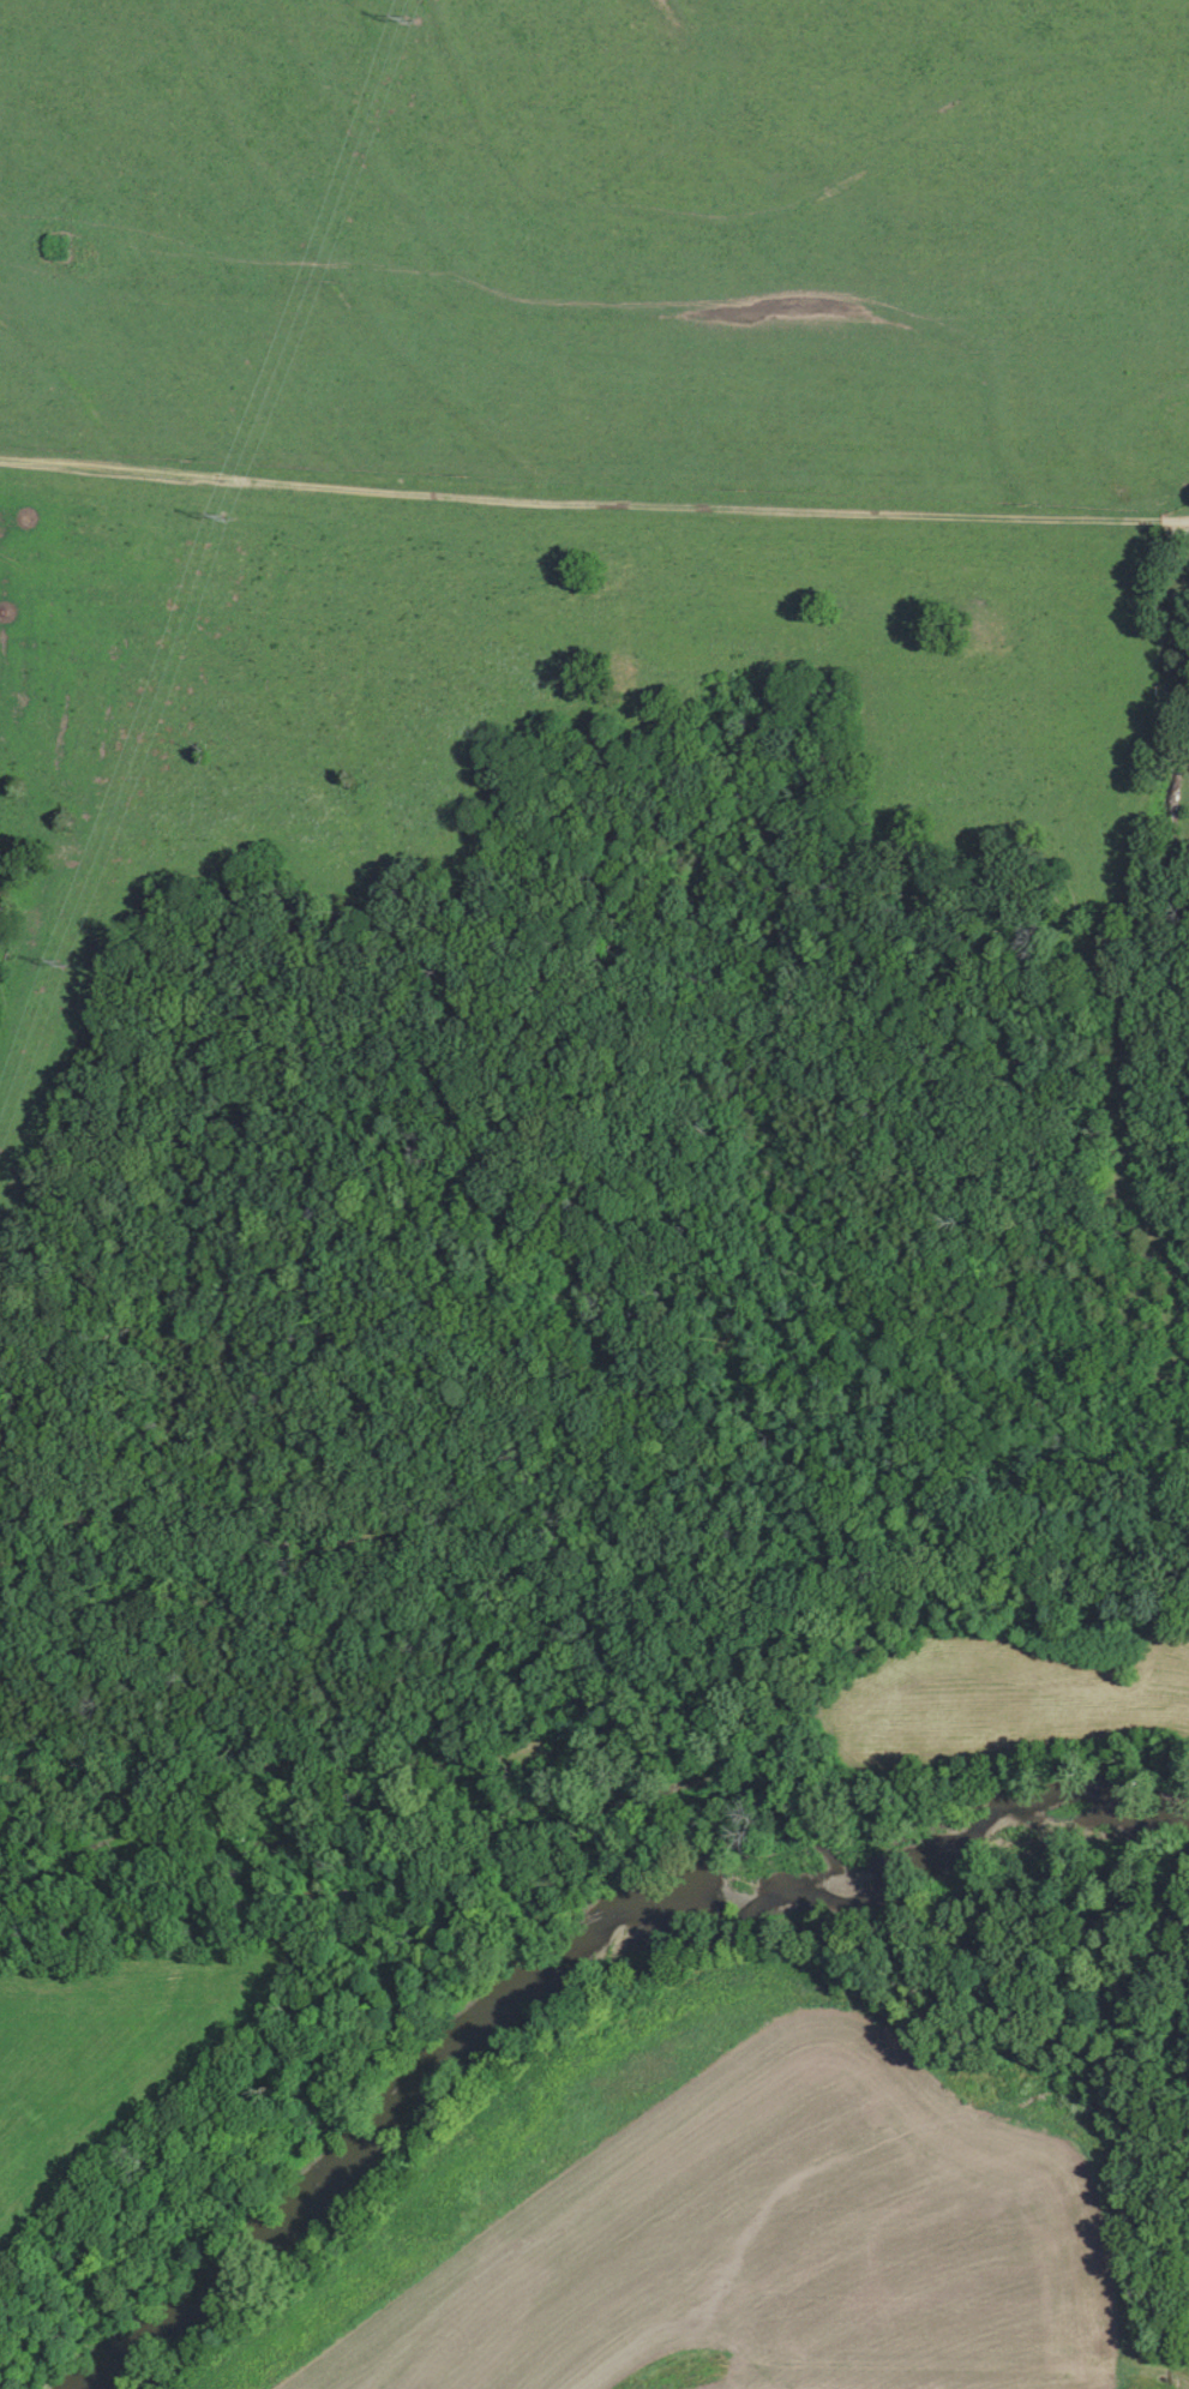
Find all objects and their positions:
power tower: (404, 19)
road: (593, 503)
power tower: (222, 506)
power tower: (58, 958)
river: (562, 1958)

